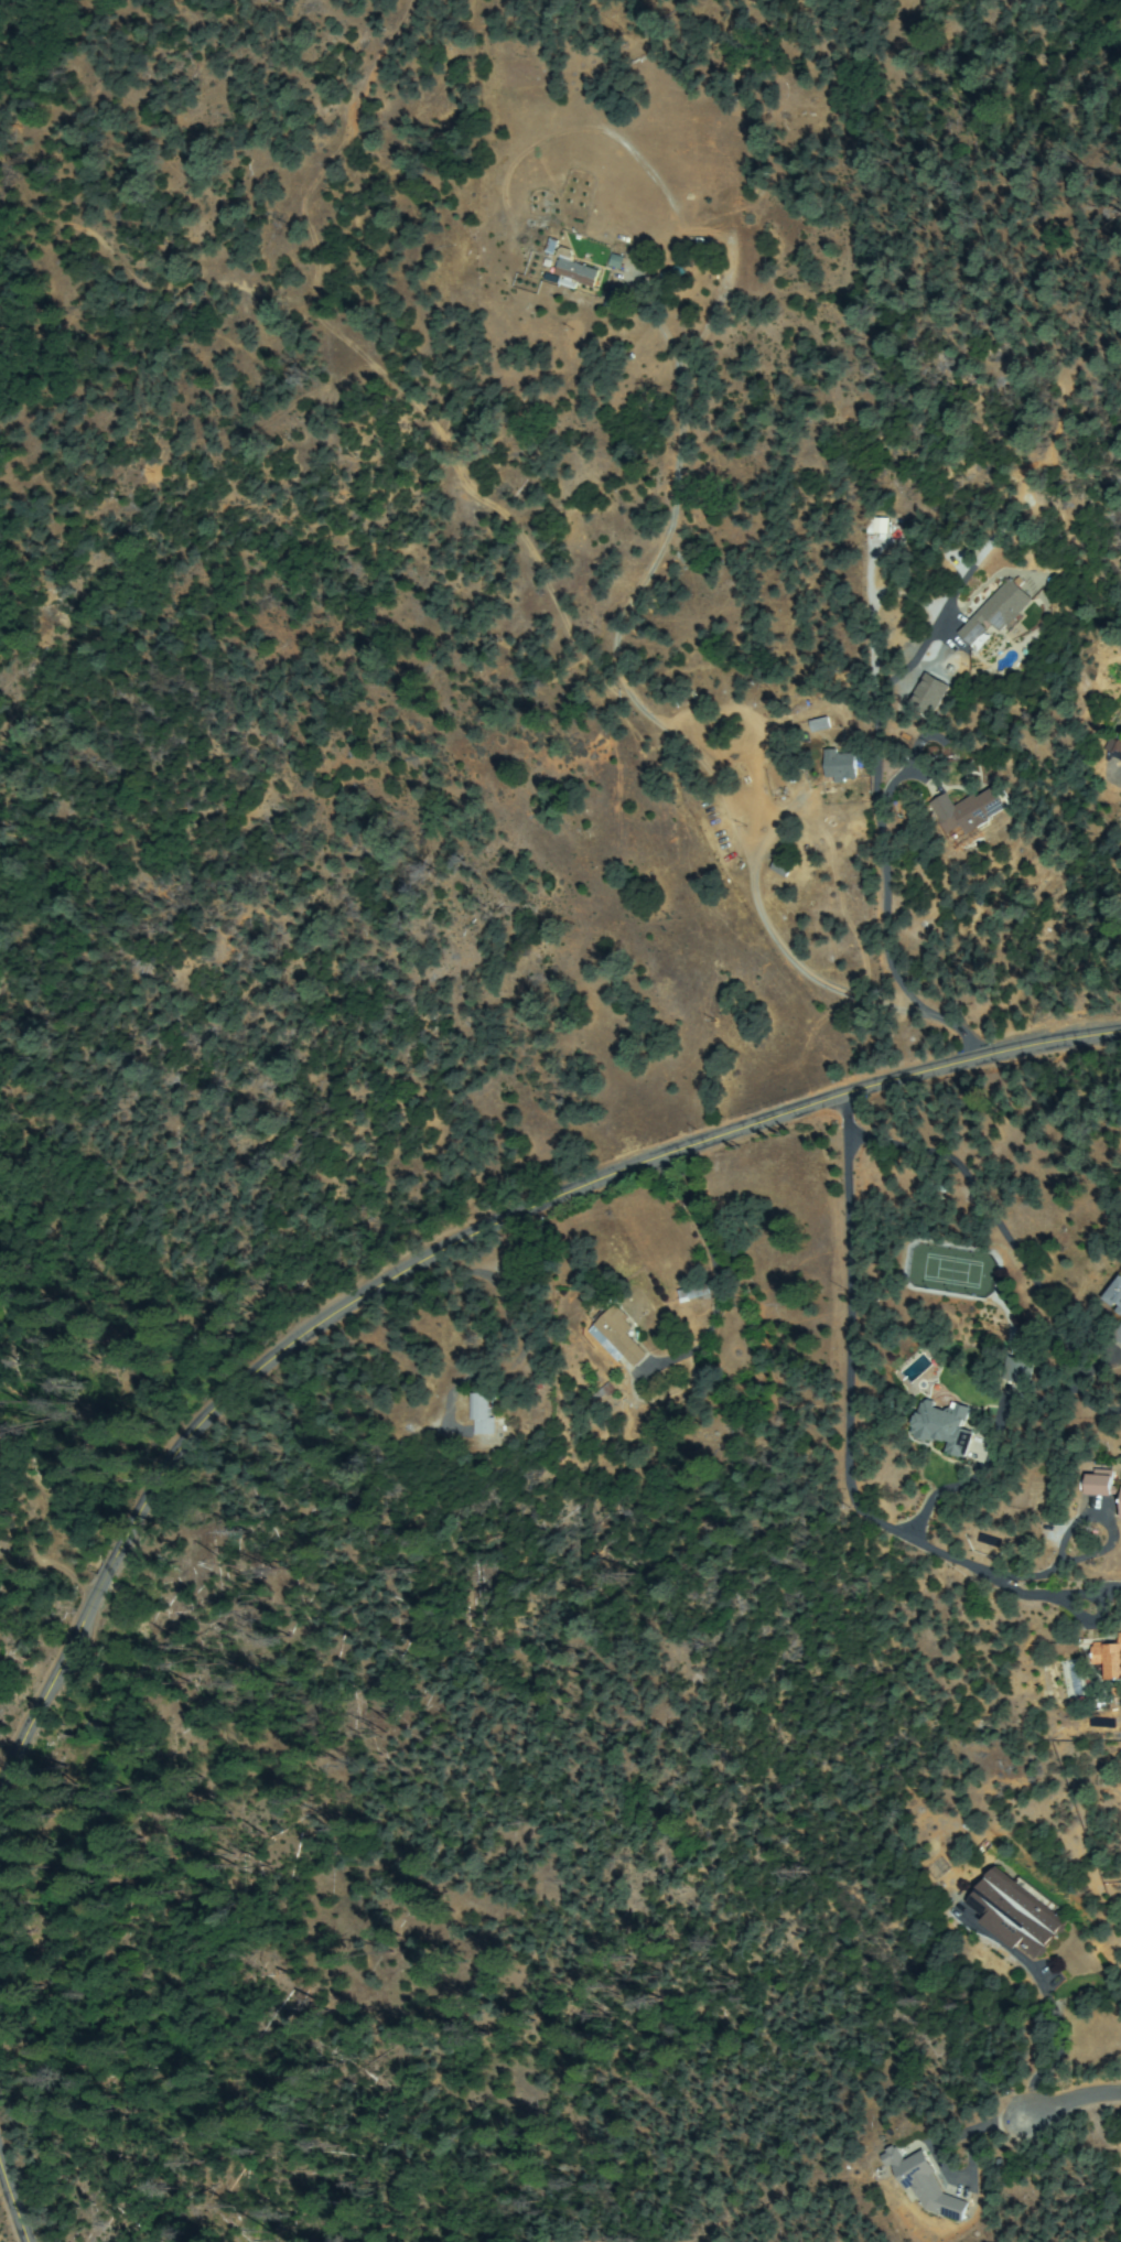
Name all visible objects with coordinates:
building: (552, 245)
building: (617, 261)
building: (574, 270)
building: (879, 526)
building: (999, 612)
building: (940, 679)
building: (926, 693)
building: (820, 724)
building: (1117, 747)
building: (841, 766)
building: (971, 811)
building: (785, 865)
road: (424, 1253)
building: (694, 1292)
building: (1115, 1294)
building: (1119, 1333)
building: (617, 1336)
building: (1020, 1371)
building: (483, 1414)
building: (945, 1426)
building: (1101, 1484)
building: (1120, 1500)
building: (1110, 1657)
building: (1017, 1912)
road: (897, 2158)
building: (926, 2185)
road: (6, 2221)

